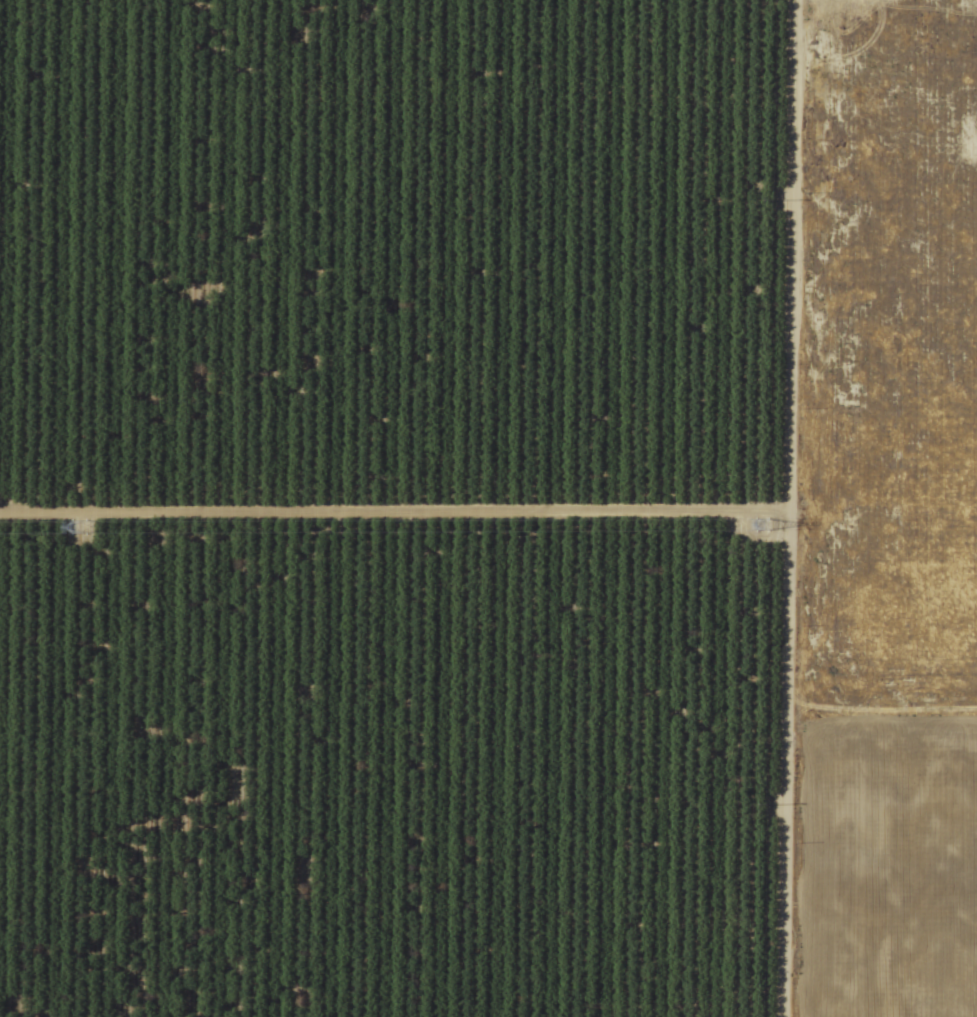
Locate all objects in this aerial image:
road: (789, 508)

